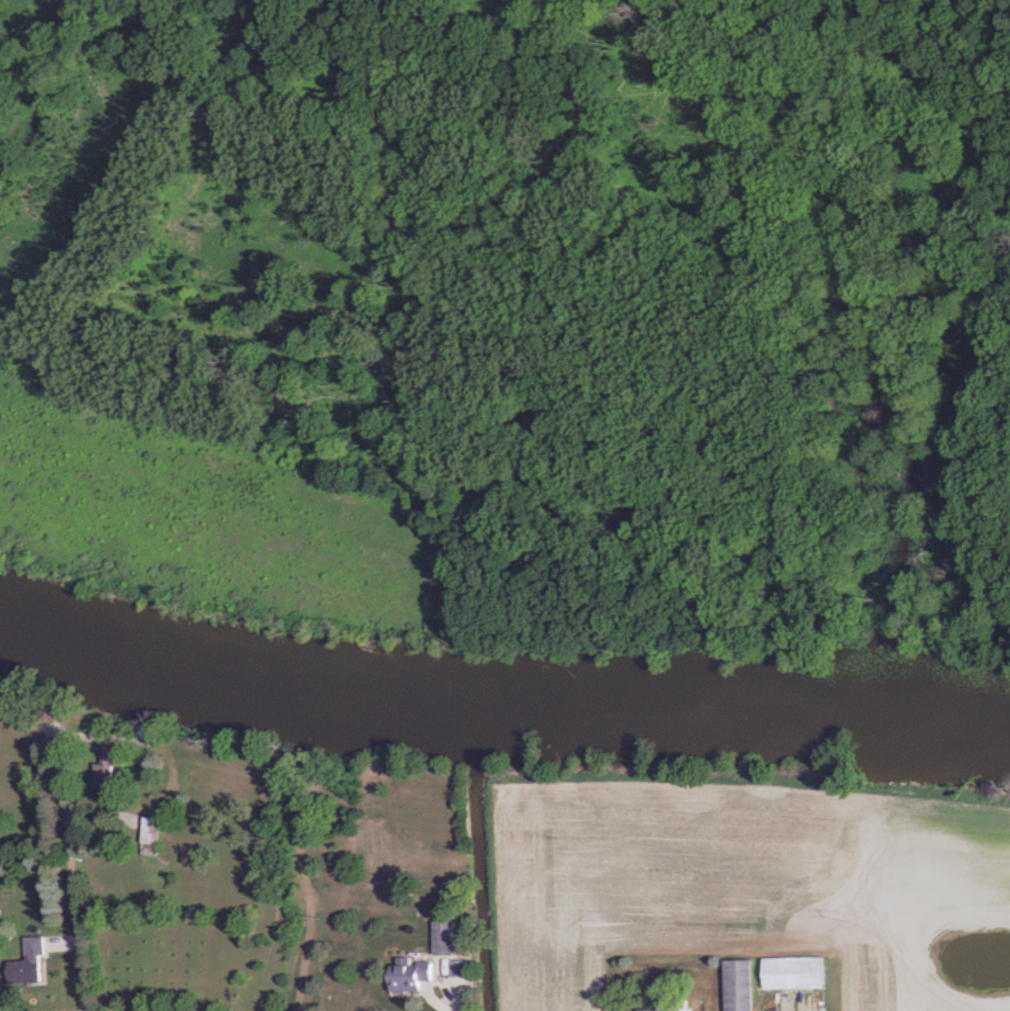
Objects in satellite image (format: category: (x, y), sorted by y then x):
river: (503, 693)
building: (115, 768)
building: (157, 832)
road: (74, 881)
building: (434, 959)
building: (35, 963)
building: (799, 973)
building: (742, 985)
building: (676, 1005)
building: (647, 1010)

